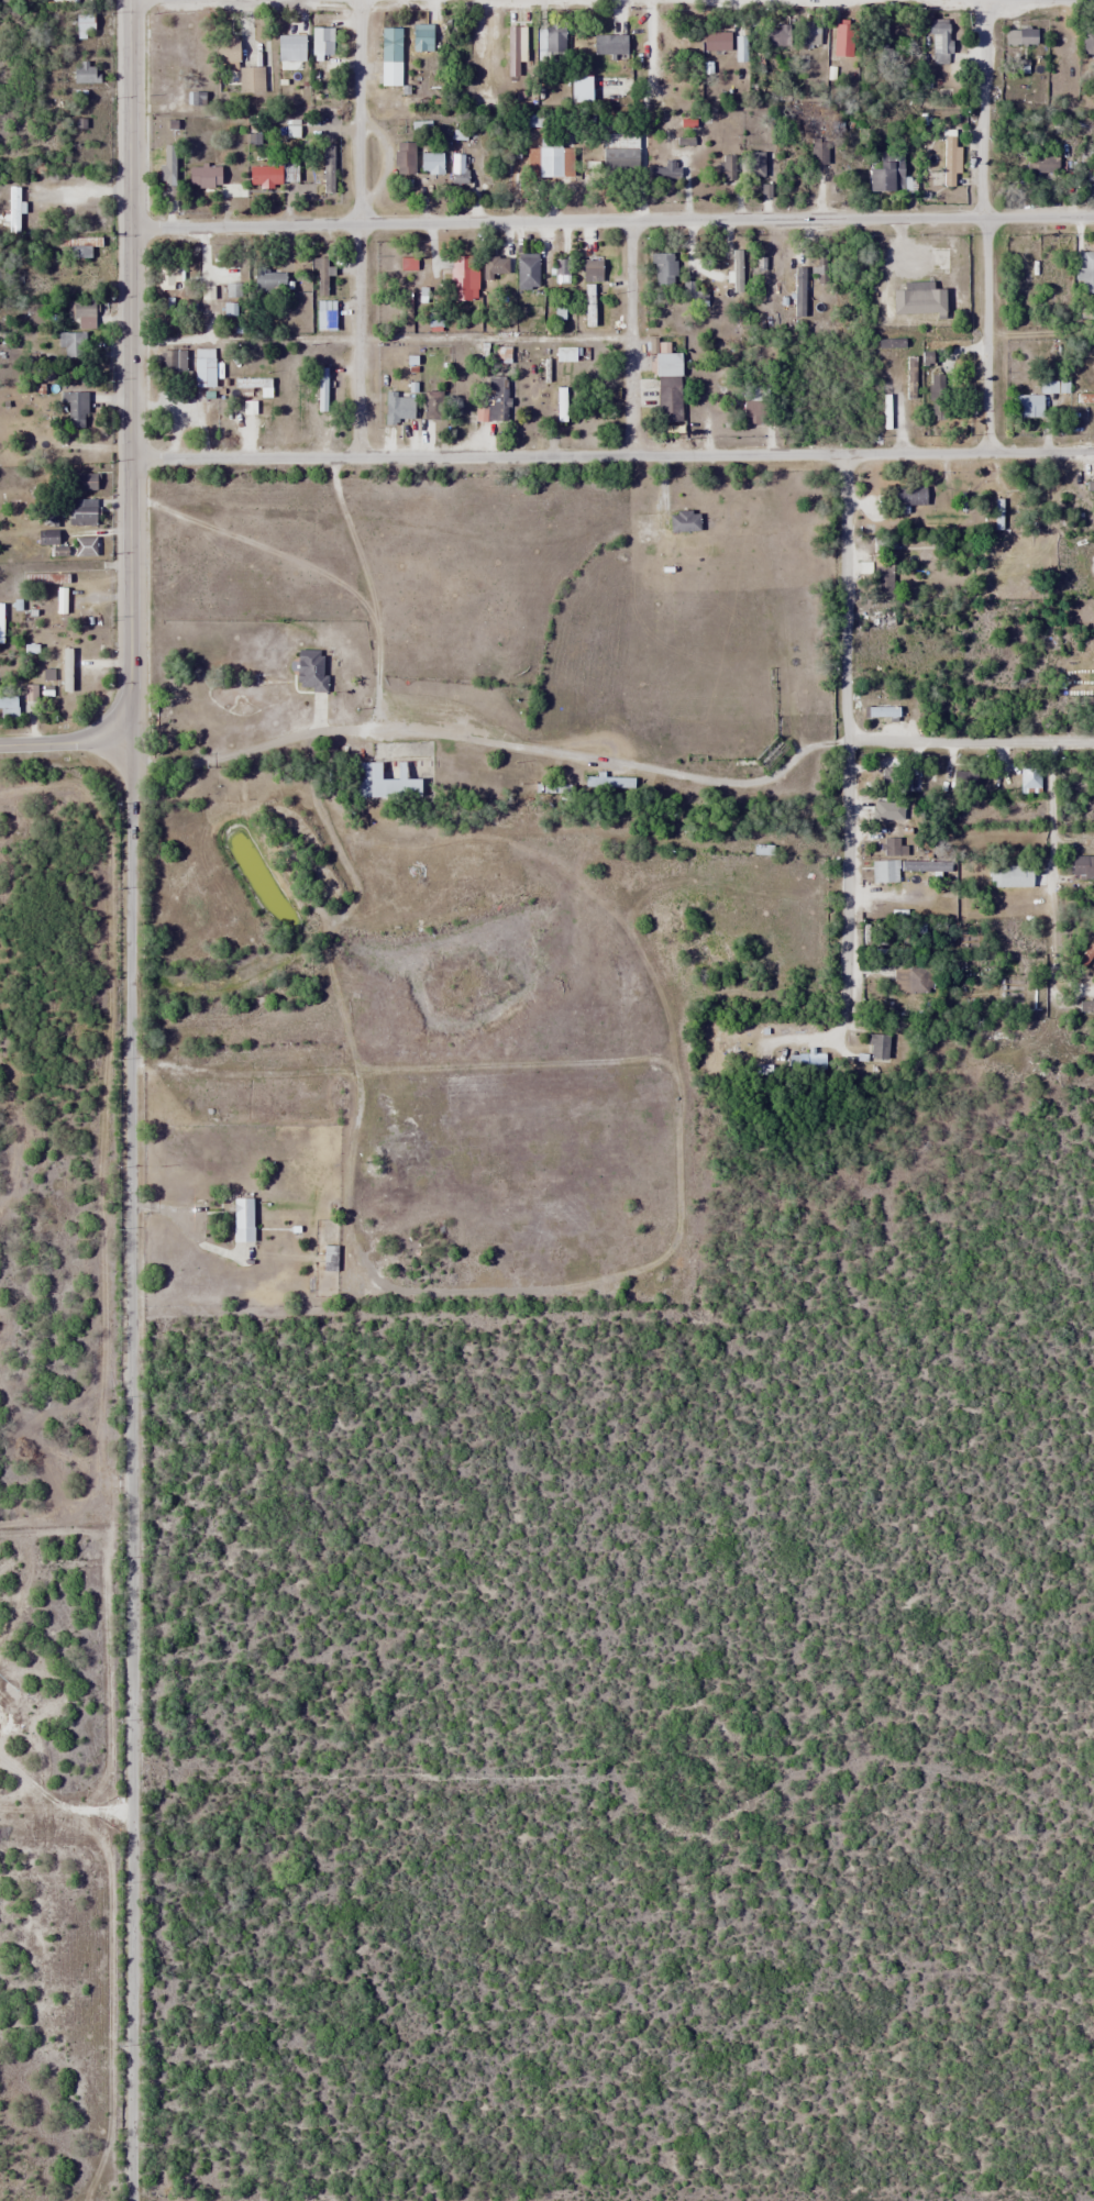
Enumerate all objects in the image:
building: (82, 24)
building: (808, 34)
building: (776, 36)
building: (877, 36)
building: (1020, 36)
building: (420, 38)
building: (550, 38)
building: (841, 40)
building: (320, 41)
building: (715, 41)
building: (938, 42)
building: (1087, 42)
building: (608, 45)
building: (289, 48)
building: (740, 48)
building: (224, 49)
building: (1058, 51)
building: (512, 52)
building: (389, 56)
building: (251, 79)
building: (302, 128)
building: (622, 151)
building: (404, 158)
building: (544, 158)
building: (948, 162)
building: (1038, 164)
building: (327, 167)
building: (457, 168)
building: (726, 168)
building: (167, 169)
building: (665, 172)
building: (885, 175)
building: (263, 176)
building: (203, 177)
building: (12, 209)
road: (612, 222)
road: (984, 225)
road: (361, 228)
building: (78, 245)
building: (820, 264)
building: (1084, 265)
building: (494, 266)
building: (663, 268)
building: (590, 269)
building: (526, 270)
building: (561, 270)
building: (736, 272)
building: (167, 276)
building: (319, 277)
building: (462, 277)
building: (268, 281)
building: (797, 291)
building: (916, 299)
building: (80, 309)
building: (324, 316)
road: (630, 338)
building: (70, 344)
building: (172, 362)
road: (131, 365)
building: (202, 367)
building: (1054, 384)
building: (666, 388)
building: (325, 390)
building: (938, 398)
building: (496, 399)
building: (1084, 399)
building: (560, 405)
building: (753, 405)
building: (431, 406)
building: (1026, 406)
building: (395, 409)
building: (73, 410)
road: (612, 454)
building: (82, 483)
building: (1089, 486)
building: (908, 496)
building: (80, 512)
building: (683, 521)
building: (84, 546)
building: (882, 576)
building: (308, 671)
road: (846, 699)
building: (7, 704)
building: (882, 711)
road: (57, 740)
road: (970, 740)
building: (1028, 777)
building: (385, 778)
building: (608, 781)
building: (962, 781)
building: (895, 784)
building: (889, 847)
building: (1082, 865)
building: (884, 871)
building: (1010, 876)
building: (916, 980)
building: (876, 1046)
building: (242, 1219)
building: (329, 1258)
road: (133, 1461)

